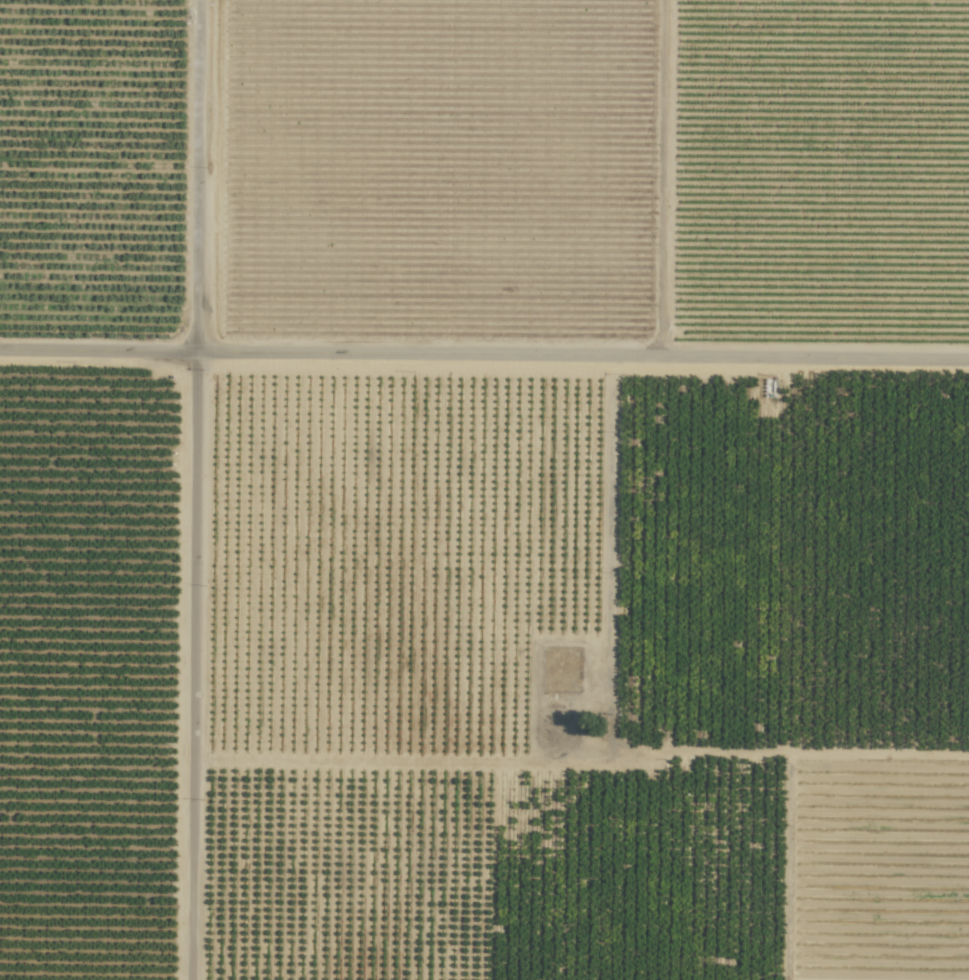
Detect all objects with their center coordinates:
road: (484, 354)
road: (197, 490)

